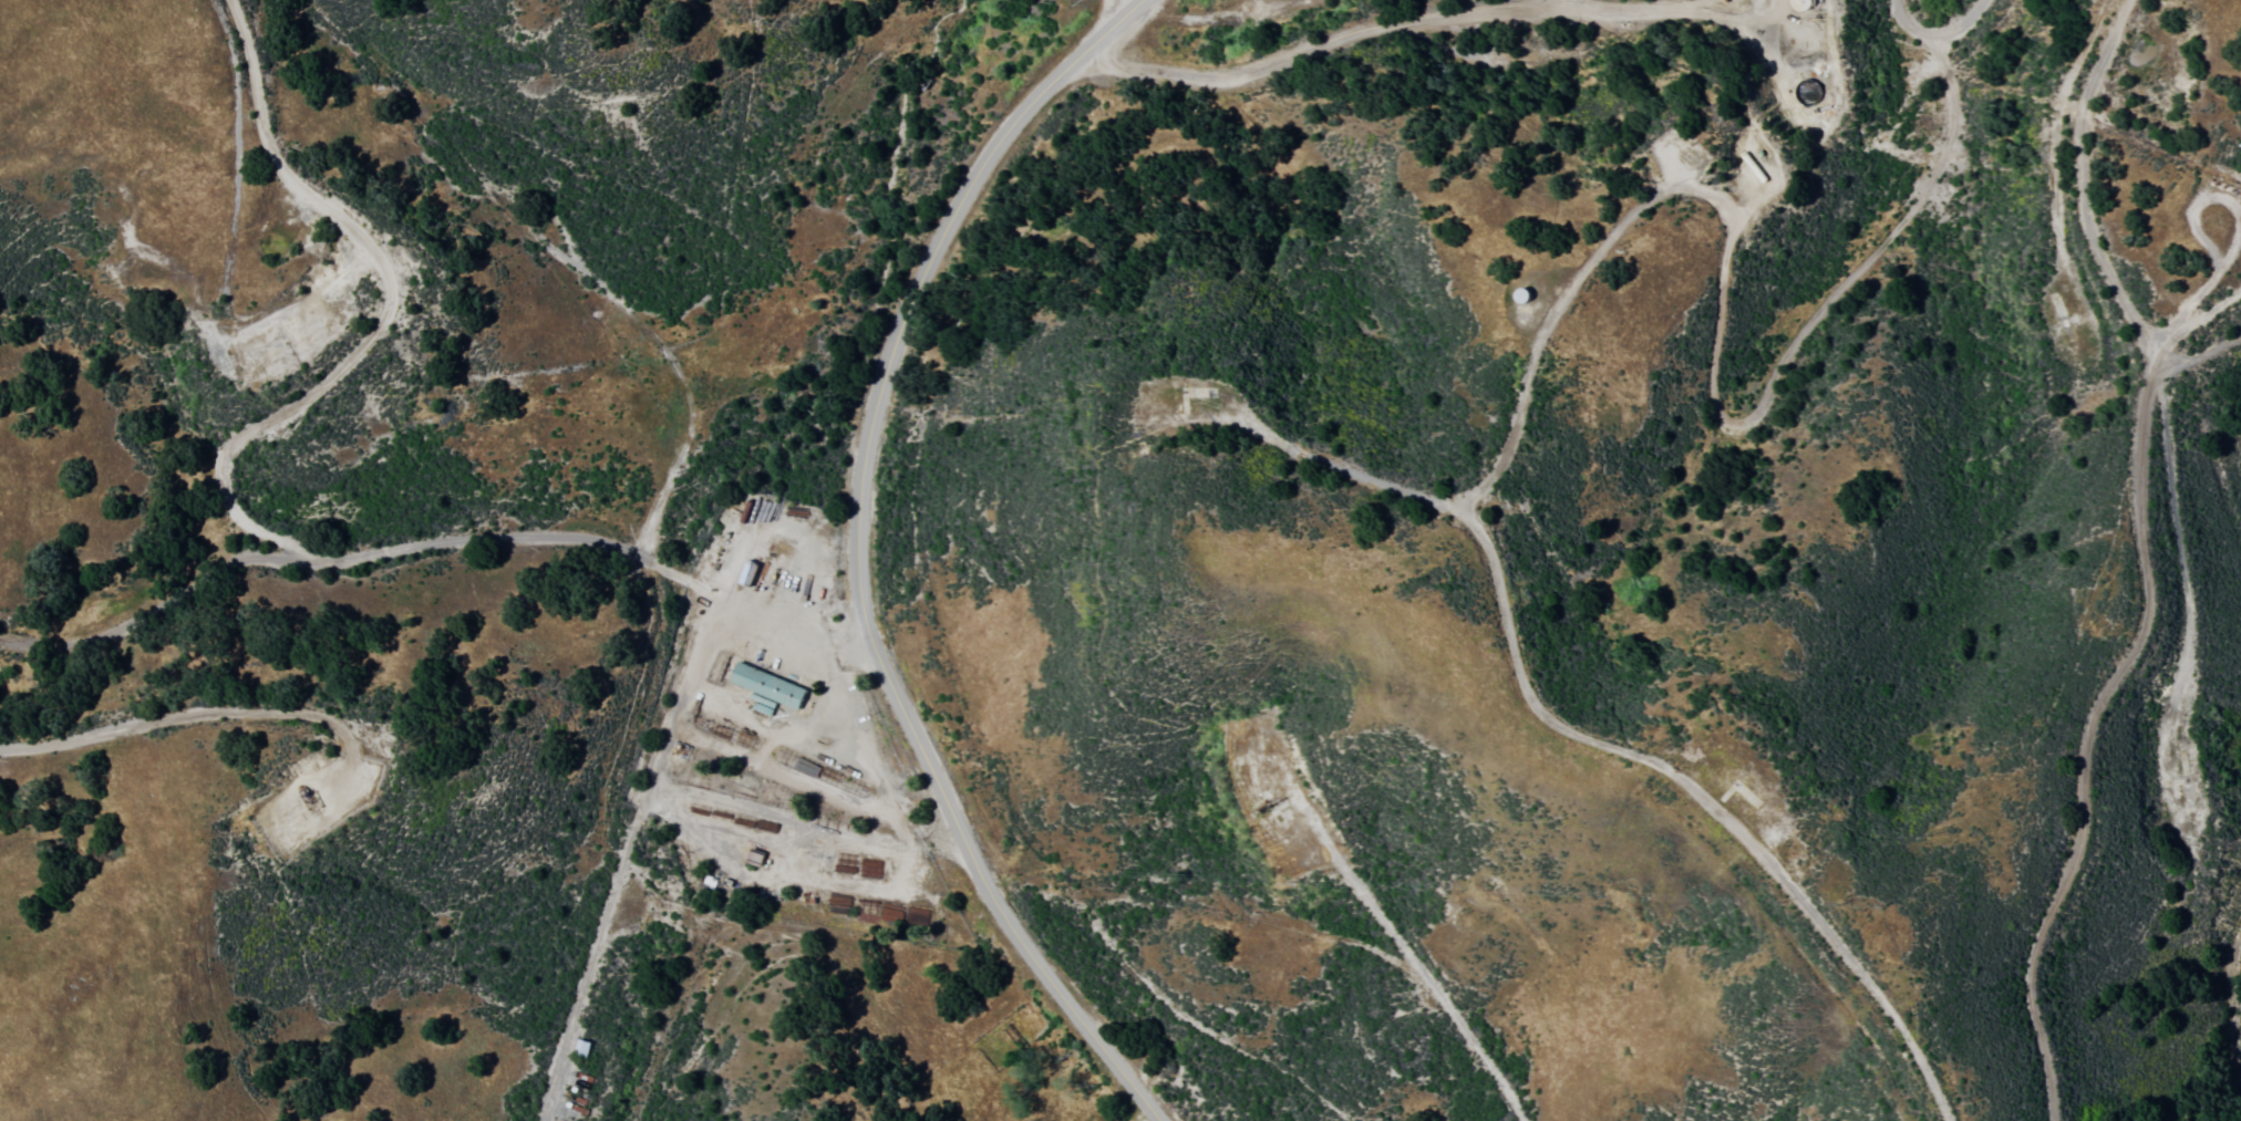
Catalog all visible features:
road: (1125, 4)
road: (1402, 23)
road: (1933, 28)
road: (386, 309)
road: (2191, 326)
road: (2188, 374)
road: (437, 542)
road: (859, 558)
road: (2142, 564)
road: (2189, 620)
building: (764, 688)
road: (231, 709)
road: (1558, 724)
petroleum well: (302, 796)
petroleum well: (1260, 806)
road: (620, 854)
road: (791, 880)
road: (1426, 968)
road: (2237, 996)

